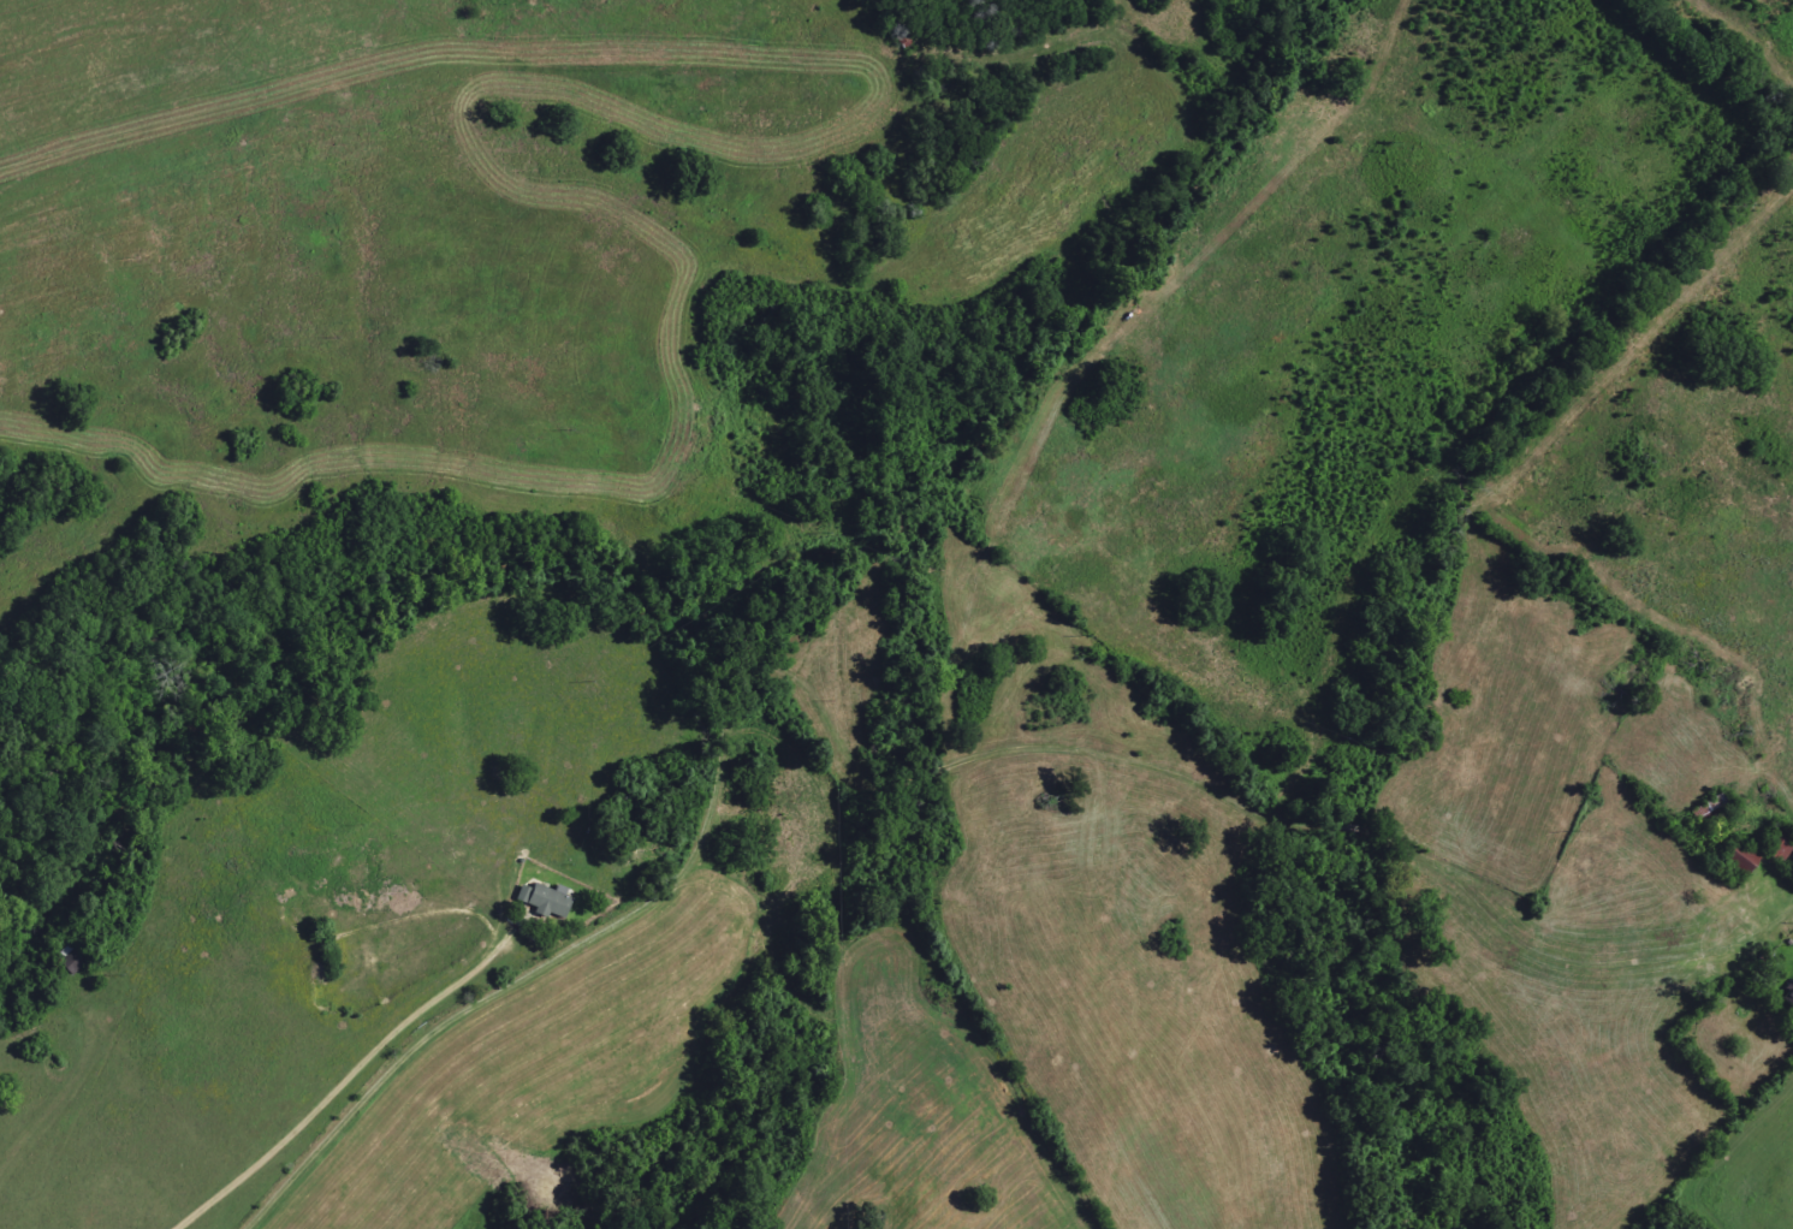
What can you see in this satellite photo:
road: (891, 776)
building: (544, 900)
building: (1788, 998)
road: (322, 1096)

